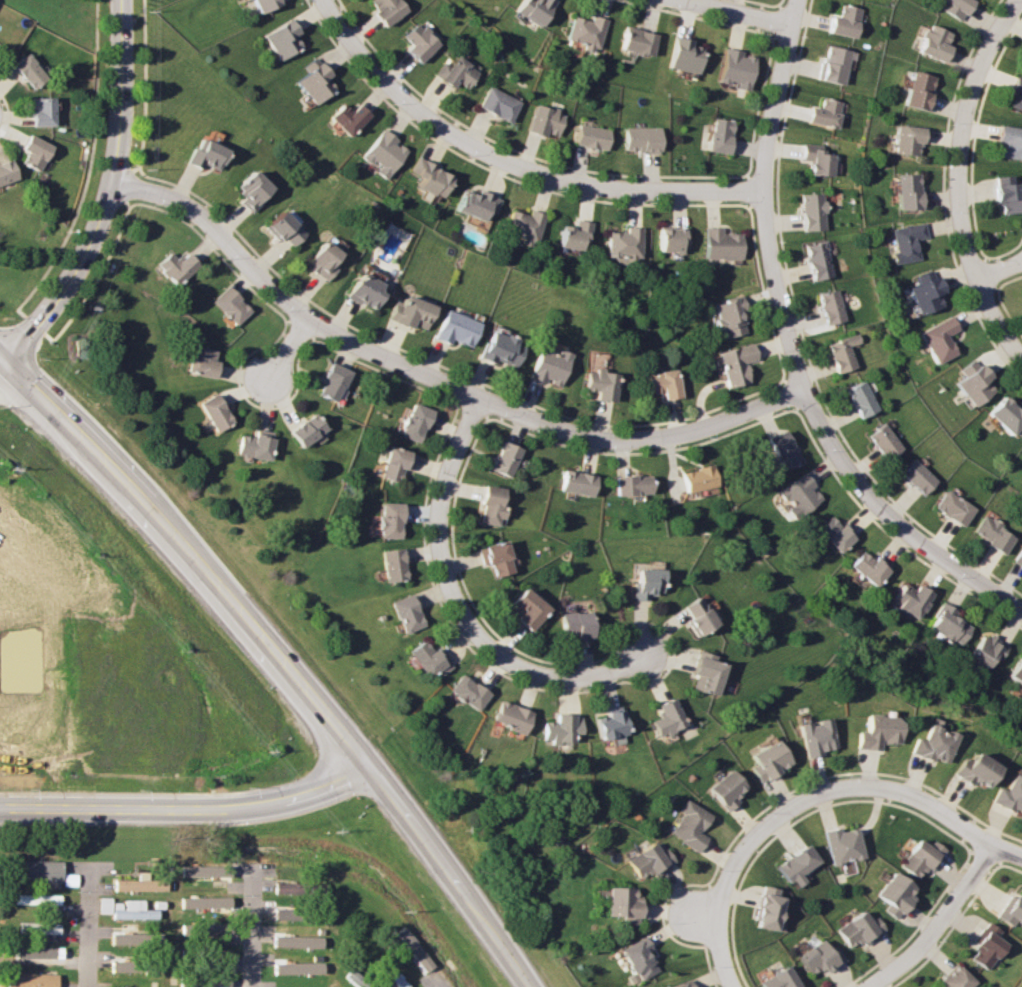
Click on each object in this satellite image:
building: (260, 4)
building: (954, 7)
building: (381, 10)
building: (530, 10)
road: (731, 12)
building: (844, 21)
building: (583, 32)
building: (278, 40)
building: (633, 42)
building: (933, 42)
building: (415, 43)
building: (680, 56)
building: (833, 64)
building: (733, 70)
building: (30, 71)
building: (452, 74)
building: (310, 84)
building: (917, 90)
building: (1016, 94)
building: (495, 105)
building: (43, 112)
building: (823, 112)
building: (342, 119)
building: (542, 123)
building: (716, 136)
building: (588, 137)
building: (638, 140)
building: (905, 140)
building: (1009, 141)
building: (36, 152)
building: (379, 155)
building: (201, 157)
building: (815, 159)
road: (510, 162)
building: (7, 171)
building: (425, 179)
road: (957, 180)
building: (245, 191)
building: (905, 191)
building: (1006, 194)
road: (106, 195)
road: (760, 197)
building: (472, 205)
building: (810, 211)
building: (520, 227)
building: (277, 229)
building: (570, 237)
building: (667, 241)
building: (903, 241)
building: (716, 245)
building: (619, 247)
building: (815, 260)
building: (317, 262)
building: (174, 267)
road: (1000, 272)
building: (359, 291)
building: (922, 292)
building: (227, 306)
building: (828, 306)
building: (407, 314)
building: (726, 318)
building: (453, 330)
building: (936, 339)
road: (289, 350)
building: (498, 350)
building: (840, 353)
traffic signals: (2, 361)
building: (199, 363)
building: (731, 365)
building: (546, 366)
road: (434, 380)
building: (971, 382)
building: (330, 383)
building: (660, 384)
building: (596, 385)
building: (859, 399)
building: (212, 413)
building: (1006, 416)
building: (412, 423)
building: (303, 431)
building: (882, 441)
building: (252, 447)
building: (780, 449)
building: (502, 459)
building: (394, 465)
building: (915, 476)
building: (696, 479)
building: (574, 484)
building: (629, 485)
building: (798, 494)
building: (487, 506)
building: (951, 507)
road: (894, 520)
building: (388, 521)
building: (833, 533)
building: (990, 533)
building: (1018, 556)
building: (492, 559)
building: (390, 565)
building: (867, 567)
building: (643, 582)
building: (908, 599)
road: (458, 607)
building: (521, 608)
building: (403, 613)
building: (692, 614)
building: (571, 625)
building: (946, 625)
building: (426, 659)
road: (276, 661)
building: (1015, 671)
building: (702, 674)
building: (464, 692)
building: (507, 716)
building: (664, 717)
building: (608, 724)
building: (558, 727)
building: (875, 731)
building: (814, 737)
building: (930, 744)
building: (764, 760)
building: (971, 770)
building: (724, 789)
building: (1009, 795)
road: (189, 808)
road: (946, 817)
building: (688, 825)
building: (841, 845)
road: (743, 849)
building: (921, 857)
building: (646, 861)
building: (795, 865)
building: (38, 869)
building: (203, 870)
building: (138, 883)
building: (284, 887)
building: (894, 894)
building: (36, 898)
building: (203, 902)
building: (103, 904)
building: (621, 904)
building: (766, 908)
building: (131, 910)
building: (1012, 910)
building: (283, 912)
road: (697, 919)
road: (938, 923)
road: (92, 925)
road: (251, 925)
building: (39, 928)
building: (210, 928)
building: (856, 930)
building: (125, 938)
building: (296, 941)
building: (986, 947)
building: (415, 948)
building: (36, 951)
building: (218, 955)
building: (818, 957)
building: (636, 959)
building: (123, 966)
building: (296, 967)
building: (395, 977)
building: (32, 979)
building: (777, 979)
building: (955, 979)
building: (213, 980)
road: (443, 984)
building: (680, 984)
building: (372, 986)

